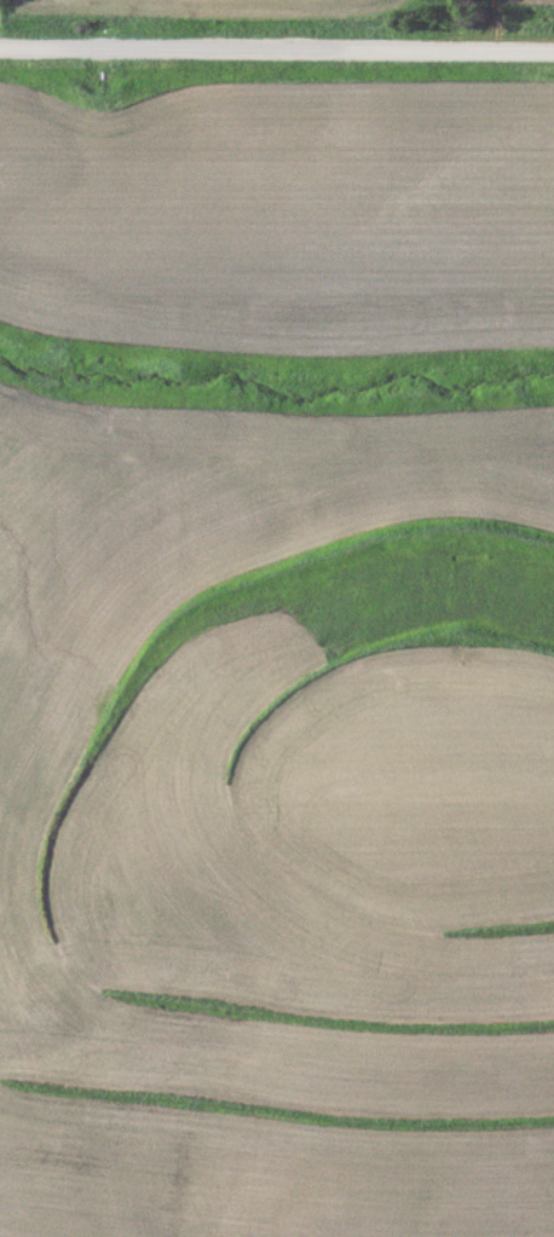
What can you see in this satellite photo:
park: (506, 31)
road: (277, 57)
building: (36, 992)

